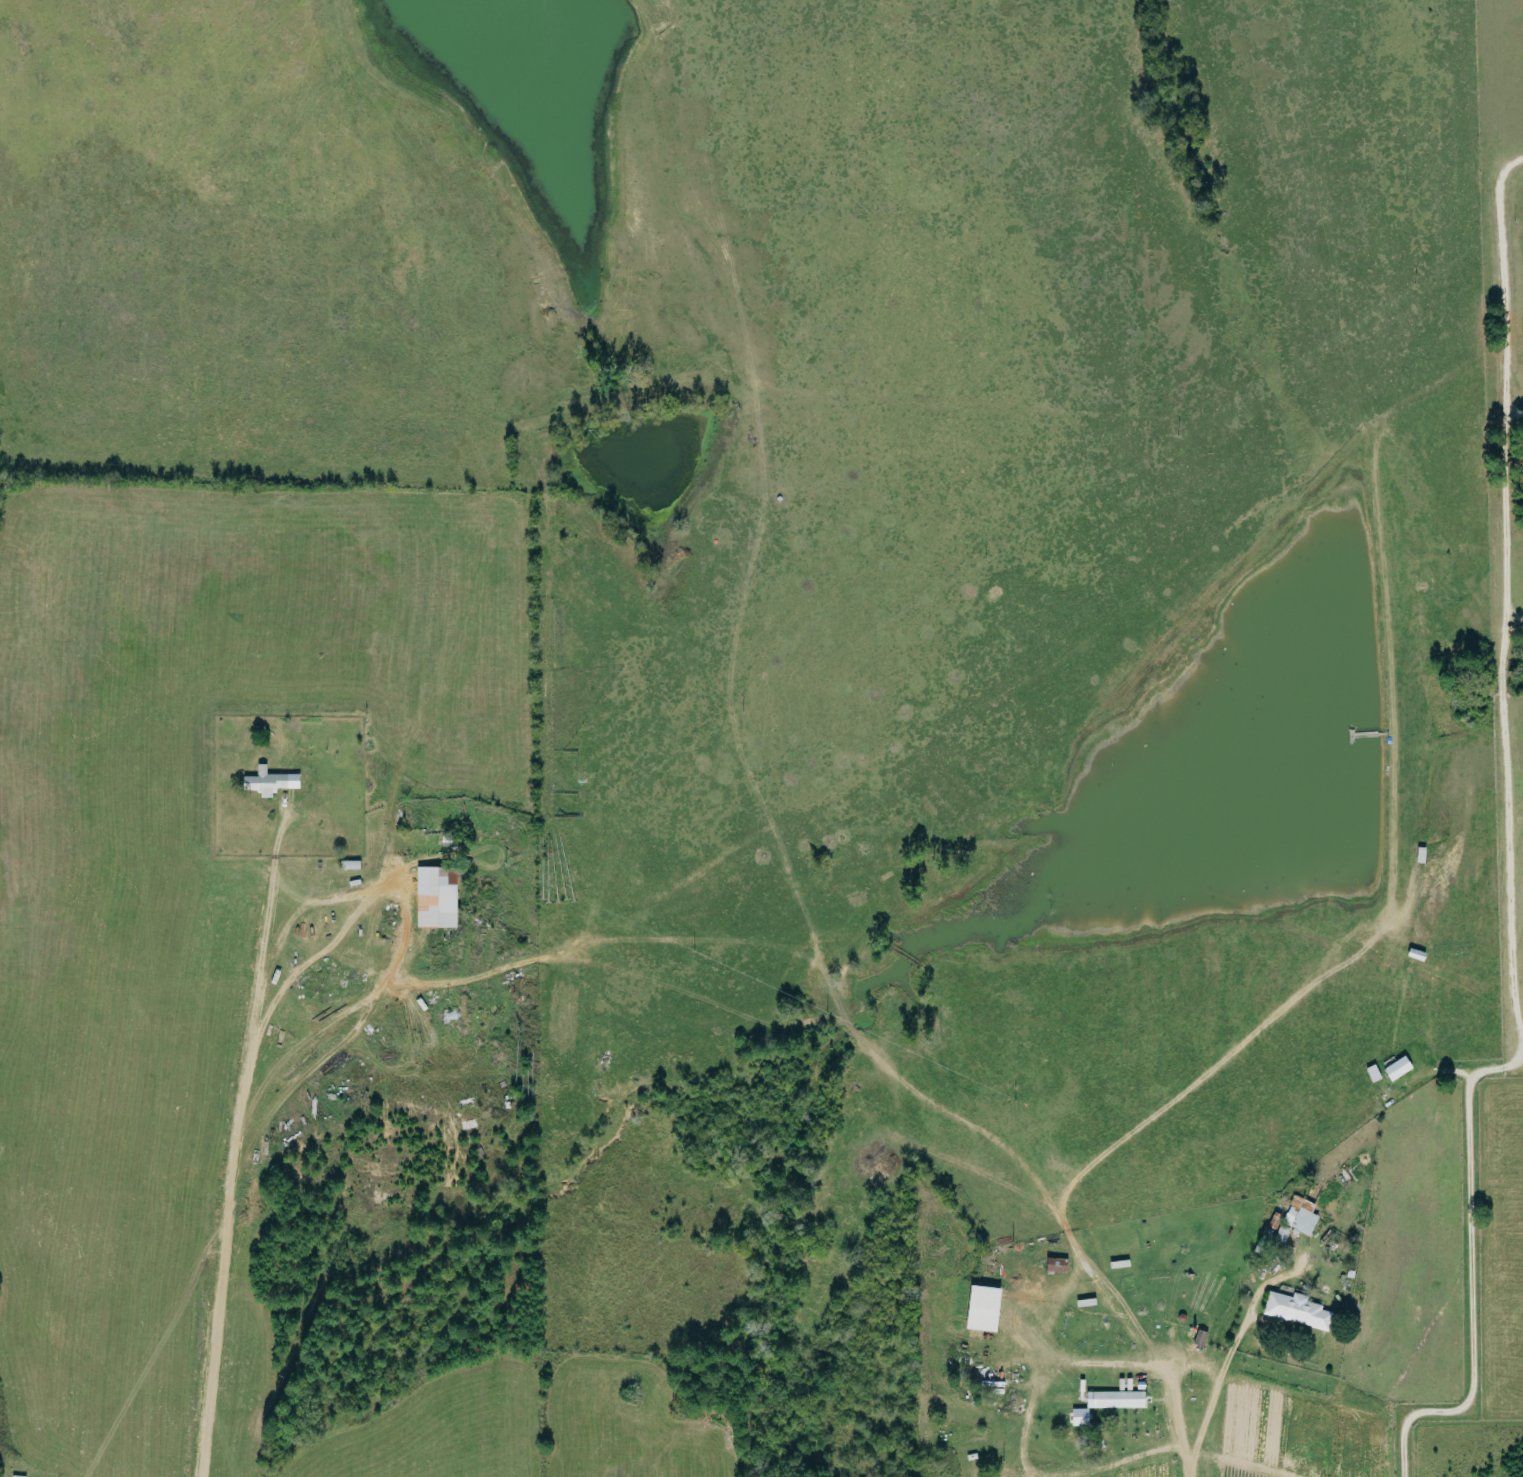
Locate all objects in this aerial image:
road: (1512, 620)
building: (274, 782)
road: (1506, 854)
building: (440, 899)
building: (1401, 1069)
road: (230, 1133)
building: (1301, 1219)
building: (1061, 1265)
building: (1301, 1311)
road: (1131, 1366)
road: (1195, 1366)
road: (1223, 1381)
building: (1120, 1400)
building: (1084, 1417)
road: (1023, 1451)
road: (207, 1452)
road: (1125, 1462)
building: (22, 1476)

